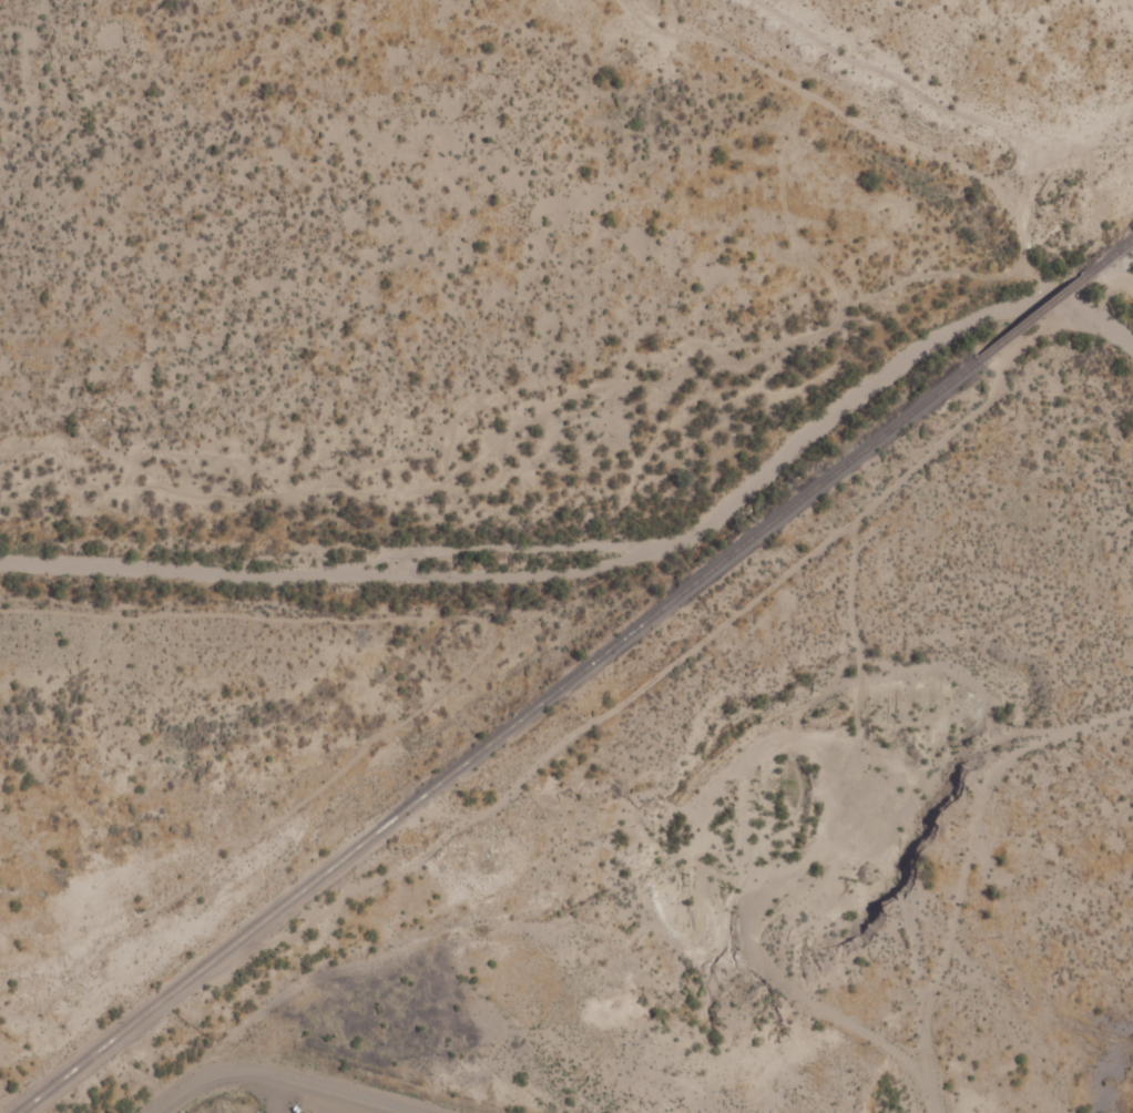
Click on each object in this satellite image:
railway: (1112, 255)
railway: (1033, 316)
river: (611, 545)
railway: (496, 736)
road: (621, 855)

